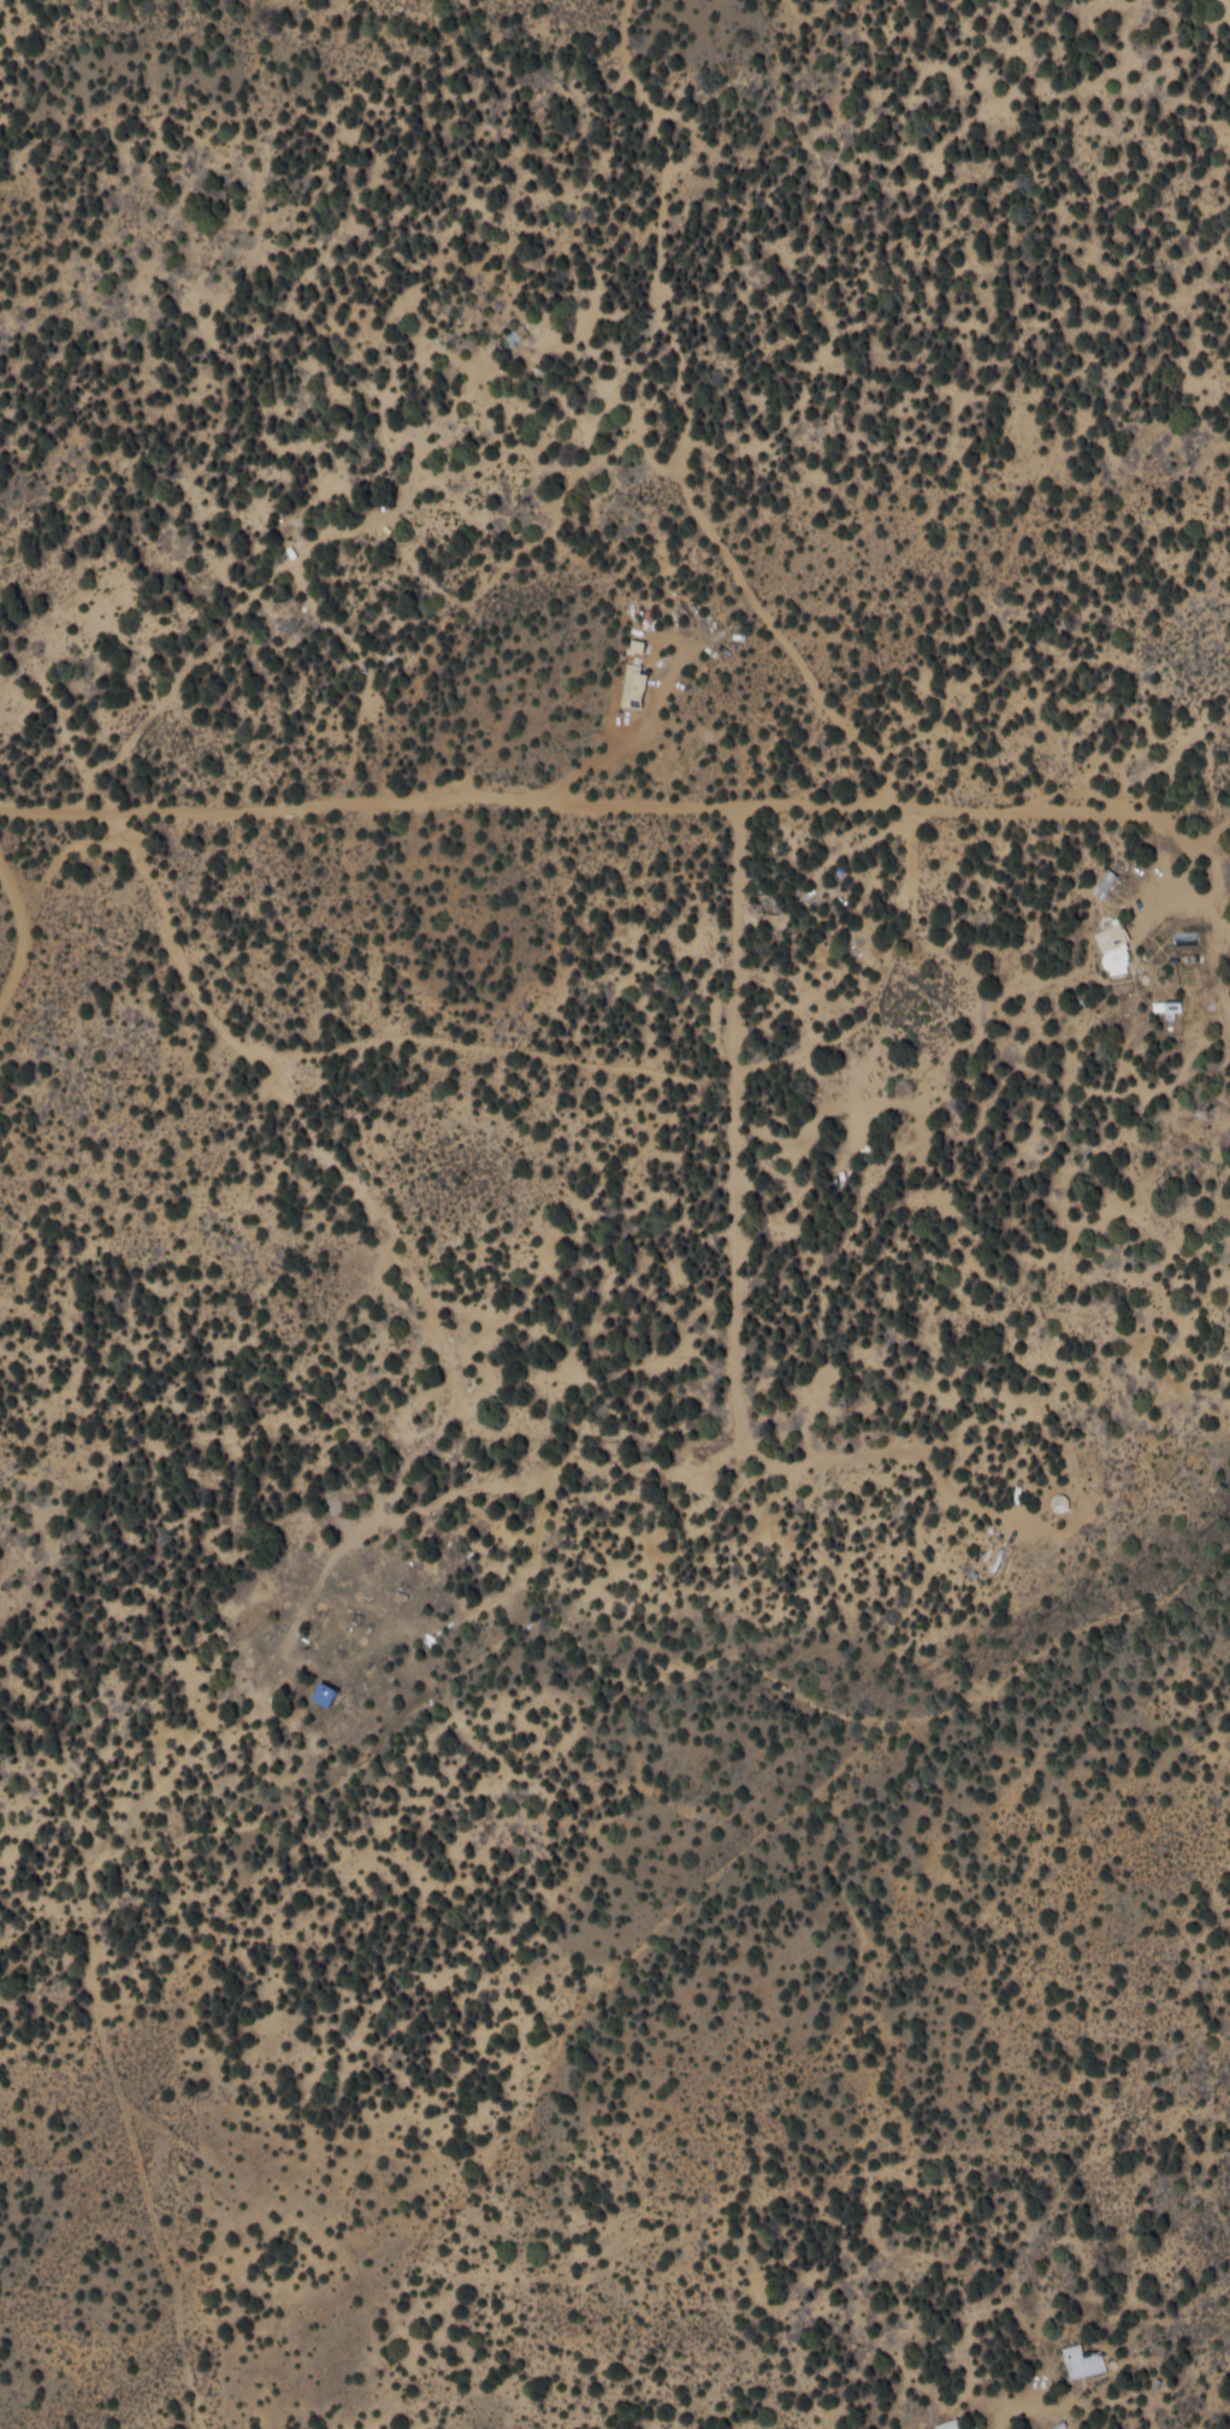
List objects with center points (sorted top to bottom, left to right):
building: (633, 673)
road: (865, 720)
road: (160, 795)
building: (1104, 883)
building: (1112, 949)
road: (549, 1205)
road: (384, 1501)
building: (335, 1693)
building: (1081, 2360)
building: (947, 2424)

